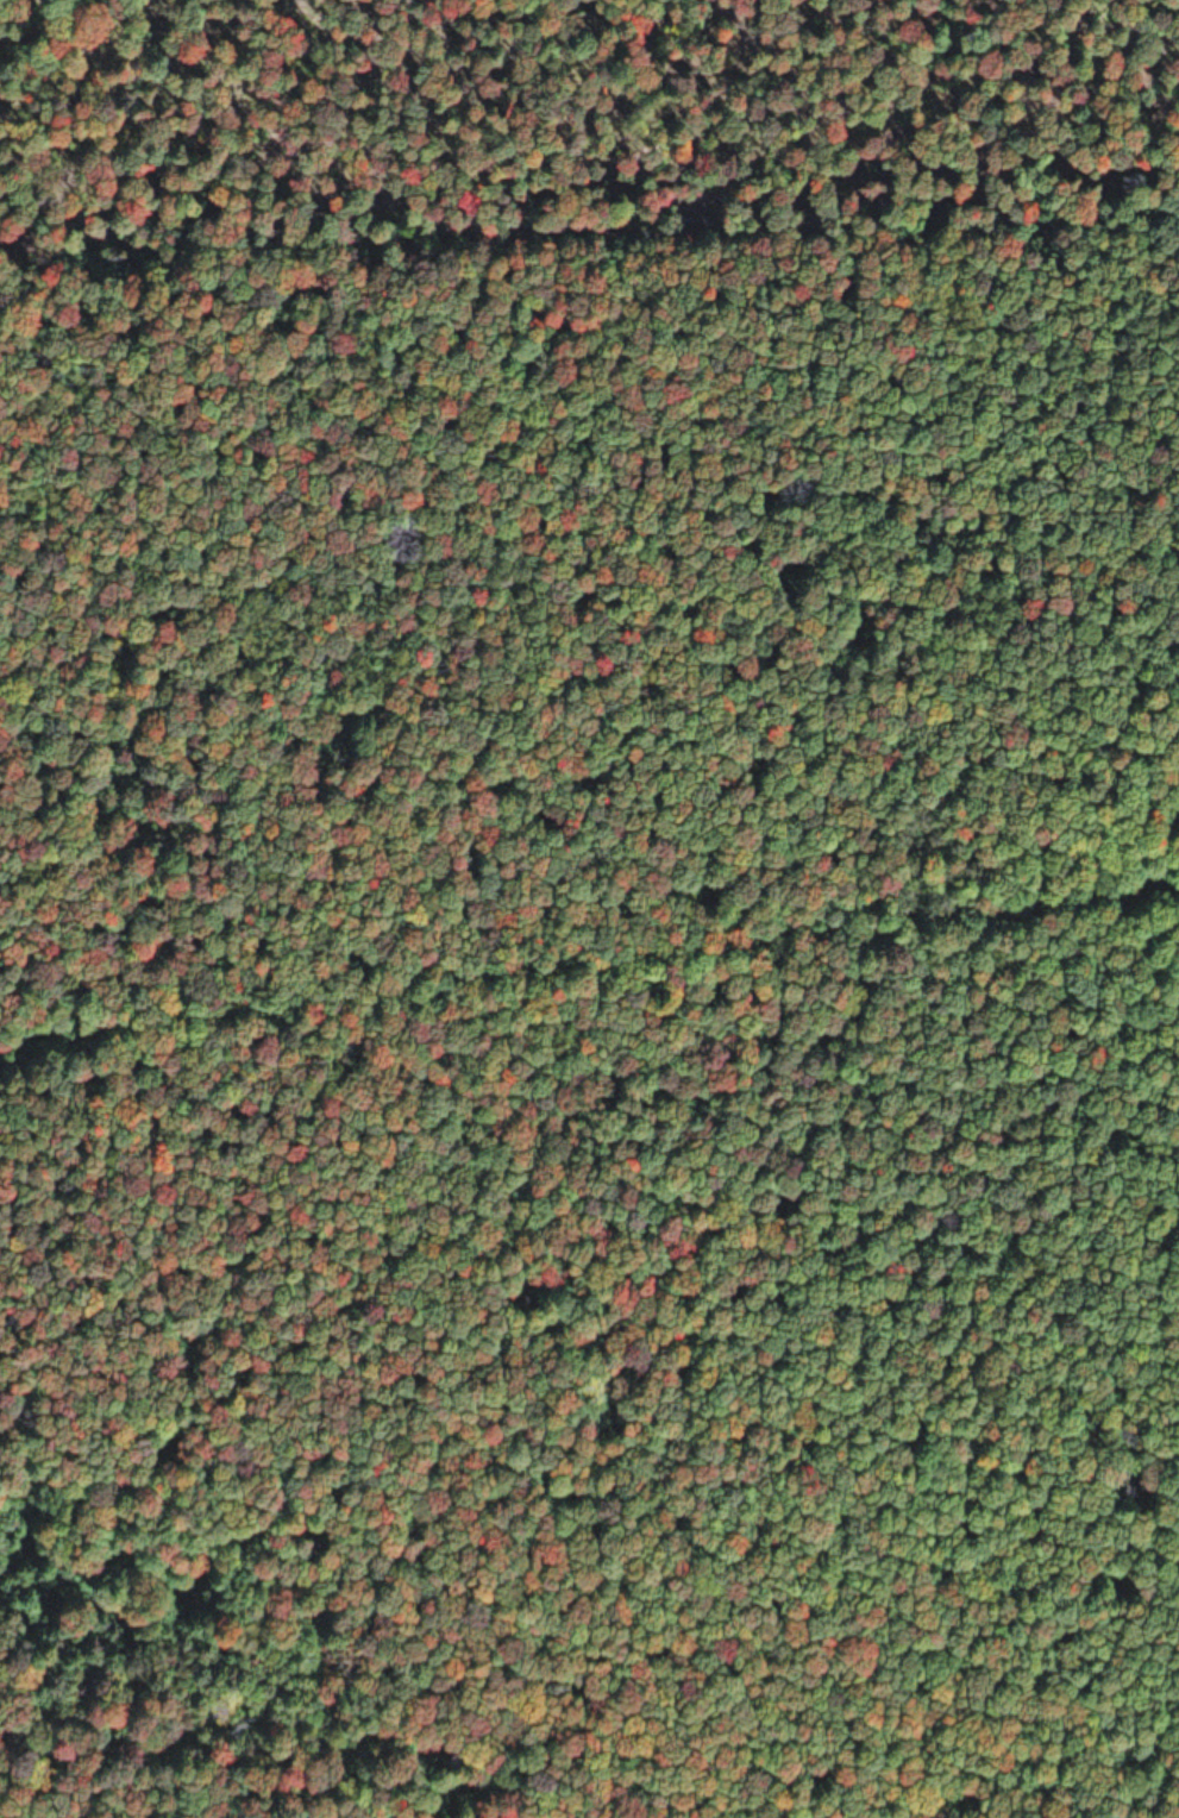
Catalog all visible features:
road: (619, 1631)

